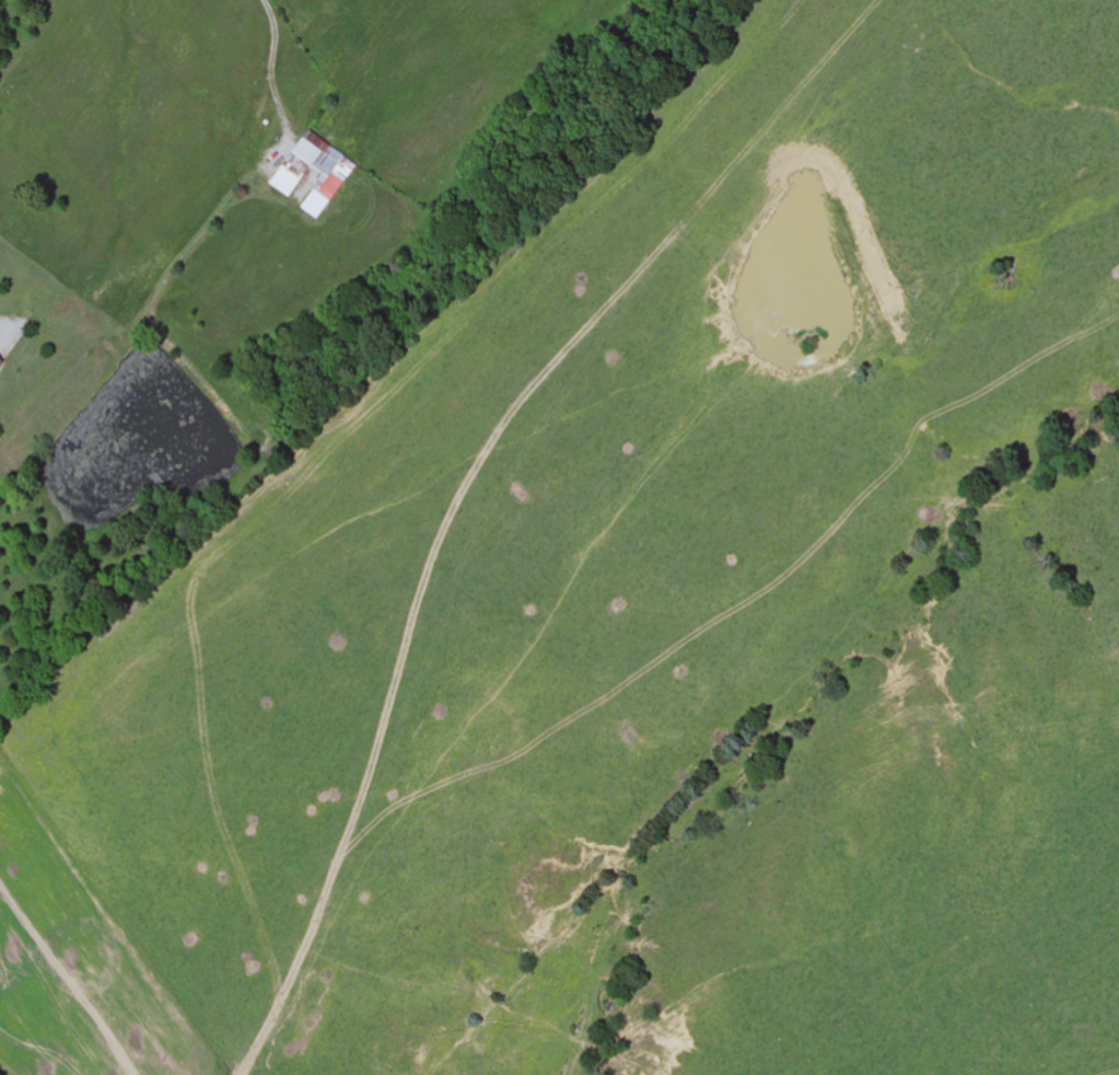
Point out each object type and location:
building: (315, 173)
building: (2, 362)

